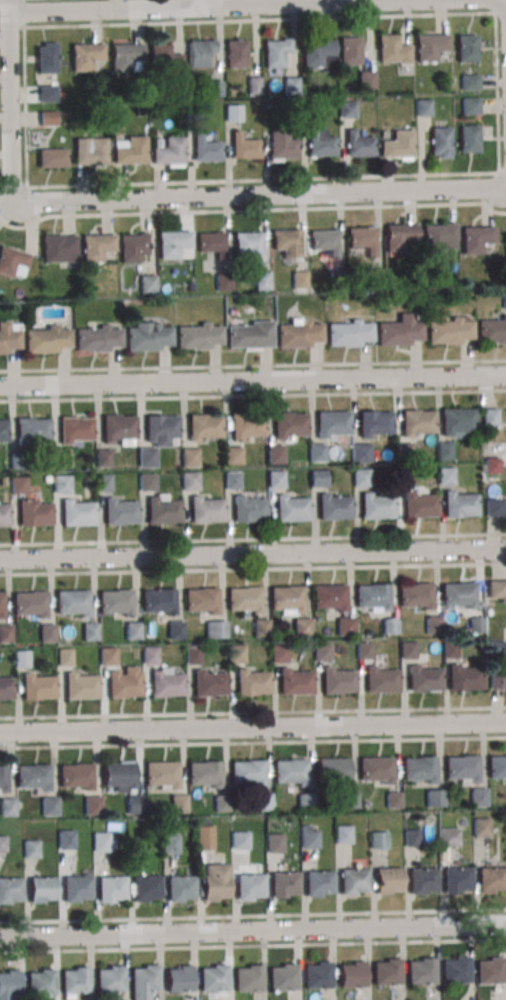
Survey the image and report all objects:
road: (201, 3)
road: (254, 6)
road: (24, 14)
road: (502, 17)
building: (430, 46)
building: (466, 47)
building: (392, 49)
building: (349, 50)
building: (200, 51)
building: (276, 51)
building: (236, 53)
building: (319, 53)
building: (85, 55)
building: (125, 55)
building: (46, 58)
building: (165, 59)
building: (366, 79)
building: (469, 82)
building: (254, 85)
building: (291, 85)
building: (214, 88)
building: (47, 93)
road: (8, 100)
building: (469, 106)
building: (267, 107)
building: (346, 108)
building: (423, 108)
building: (141, 112)
building: (233, 112)
building: (306, 112)
building: (64, 114)
building: (156, 114)
building: (194, 114)
building: (49, 118)
building: (468, 138)
building: (320, 142)
building: (440, 142)
building: (358, 144)
building: (397, 144)
building: (281, 146)
building: (244, 147)
building: (205, 150)
building: (90, 151)
building: (131, 151)
building: (169, 152)
building: (53, 157)
road: (498, 174)
road: (260, 197)
road: (252, 210)
building: (440, 236)
building: (402, 237)
building: (505, 237)
building: (476, 239)
building: (363, 241)
building: (325, 242)
building: (172, 243)
building: (287, 243)
building: (211, 244)
building: (249, 244)
building: (96, 246)
building: (134, 247)
building: (59, 248)
building: (13, 262)
building: (339, 278)
building: (375, 278)
building: (300, 279)
building: (262, 281)
building: (223, 282)
building: (147, 283)
building: (191, 287)
building: (369, 294)
building: (378, 294)
building: (505, 300)
building: (492, 331)
building: (450, 332)
building: (400, 333)
building: (349, 334)
building: (299, 335)
building: (250, 336)
building: (198, 337)
building: (147, 338)
building: (8, 339)
building: (97, 339)
building: (48, 340)
road: (253, 366)
road: (253, 381)
road: (253, 395)
building: (491, 417)
building: (417, 423)
building: (457, 423)
building: (375, 424)
building: (332, 425)
building: (289, 426)
building: (246, 427)
building: (204, 428)
building: (118, 429)
building: (76, 430)
building: (160, 431)
building: (4, 432)
building: (32, 432)
building: (445, 451)
building: (317, 453)
building: (403, 453)
building: (361, 454)
building: (274, 455)
building: (231, 456)
building: (103, 458)
building: (146, 458)
building: (189, 458)
building: (61, 459)
building: (18, 460)
building: (491, 465)
building: (446, 477)
building: (361, 478)
building: (404, 478)
building: (47, 479)
building: (317, 479)
building: (275, 480)
building: (231, 481)
building: (3, 482)
building: (190, 482)
building: (103, 483)
building: (146, 483)
building: (19, 485)
building: (61, 486)
building: (460, 506)
building: (494, 506)
building: (420, 507)
building: (377, 508)
building: (333, 509)
building: (249, 510)
building: (291, 510)
building: (205, 511)
building: (162, 512)
building: (120, 513)
building: (34, 514)
building: (77, 515)
building: (4, 516)
road: (253, 539)
road: (253, 553)
road: (253, 569)
building: (496, 590)
building: (458, 596)
building: (415, 597)
building: (330, 598)
building: (373, 598)
building: (244, 600)
building: (286, 600)
building: (201, 601)
building: (158, 602)
building: (115, 603)
building: (72, 604)
building: (30, 605)
building: (2, 607)
building: (346, 626)
building: (432, 626)
building: (476, 626)
building: (390, 627)
building: (303, 628)
building: (261, 629)
building: (175, 631)
building: (216, 631)
building: (132, 632)
building: (89, 633)
building: (6, 634)
building: (47, 634)
building: (497, 649)
building: (450, 650)
building: (364, 651)
building: (407, 651)
building: (322, 652)
building: (236, 654)
building: (278, 654)
building: (193, 656)
building: (149, 657)
building: (21, 658)
building: (107, 658)
building: (64, 659)
building: (464, 680)
building: (381, 681)
building: (424, 681)
building: (338, 682)
building: (497, 682)
building: (252, 683)
building: (295, 683)
building: (124, 685)
building: (209, 685)
building: (166, 686)
building: (38, 688)
building: (81, 688)
building: (6, 690)
road: (253, 713)
road: (253, 728)
road: (253, 742)
building: (496, 765)
building: (460, 767)
building: (375, 768)
building: (418, 768)
building: (332, 769)
building: (289, 770)
building: (247, 772)
building: (161, 773)
building: (204, 773)
building: (76, 775)
building: (118, 775)
building: (33, 776)
building: (3, 778)
building: (477, 797)
building: (433, 798)
building: (348, 800)
building: (392, 800)
building: (263, 801)
building: (305, 801)
building: (178, 803)
building: (221, 803)
building: (134, 804)
building: (92, 805)
building: (49, 806)
building: (8, 807)
building: (169, 823)
building: (239, 825)
building: (480, 827)
building: (342, 835)
building: (308, 837)
building: (412, 837)
building: (448, 837)
building: (204, 838)
building: (66, 839)
building: (377, 839)
building: (239, 840)
building: (100, 842)
building: (273, 843)
building: (3, 844)
building: (169, 844)
building: (134, 846)
building: (31, 848)
building: (456, 879)
building: (490, 879)
building: (386, 880)
building: (421, 880)
building: (215, 881)
building: (352, 881)
building: (317, 883)
building: (283, 884)
building: (248, 886)
building: (76, 888)
building: (145, 888)
building: (180, 888)
building: (10, 889)
building: (41, 889)
building: (110, 889)
road: (253, 916)
road: (252, 930)
road: (253, 946)
building: (421, 970)
building: (455, 970)
building: (490, 970)
building: (385, 971)
building: (351, 974)
building: (317, 975)
building: (213, 977)
building: (282, 977)
building: (110, 978)
building: (179, 978)
building: (248, 978)
building: (75, 980)
building: (144, 981)
building: (41, 982)
building: (9, 983)

